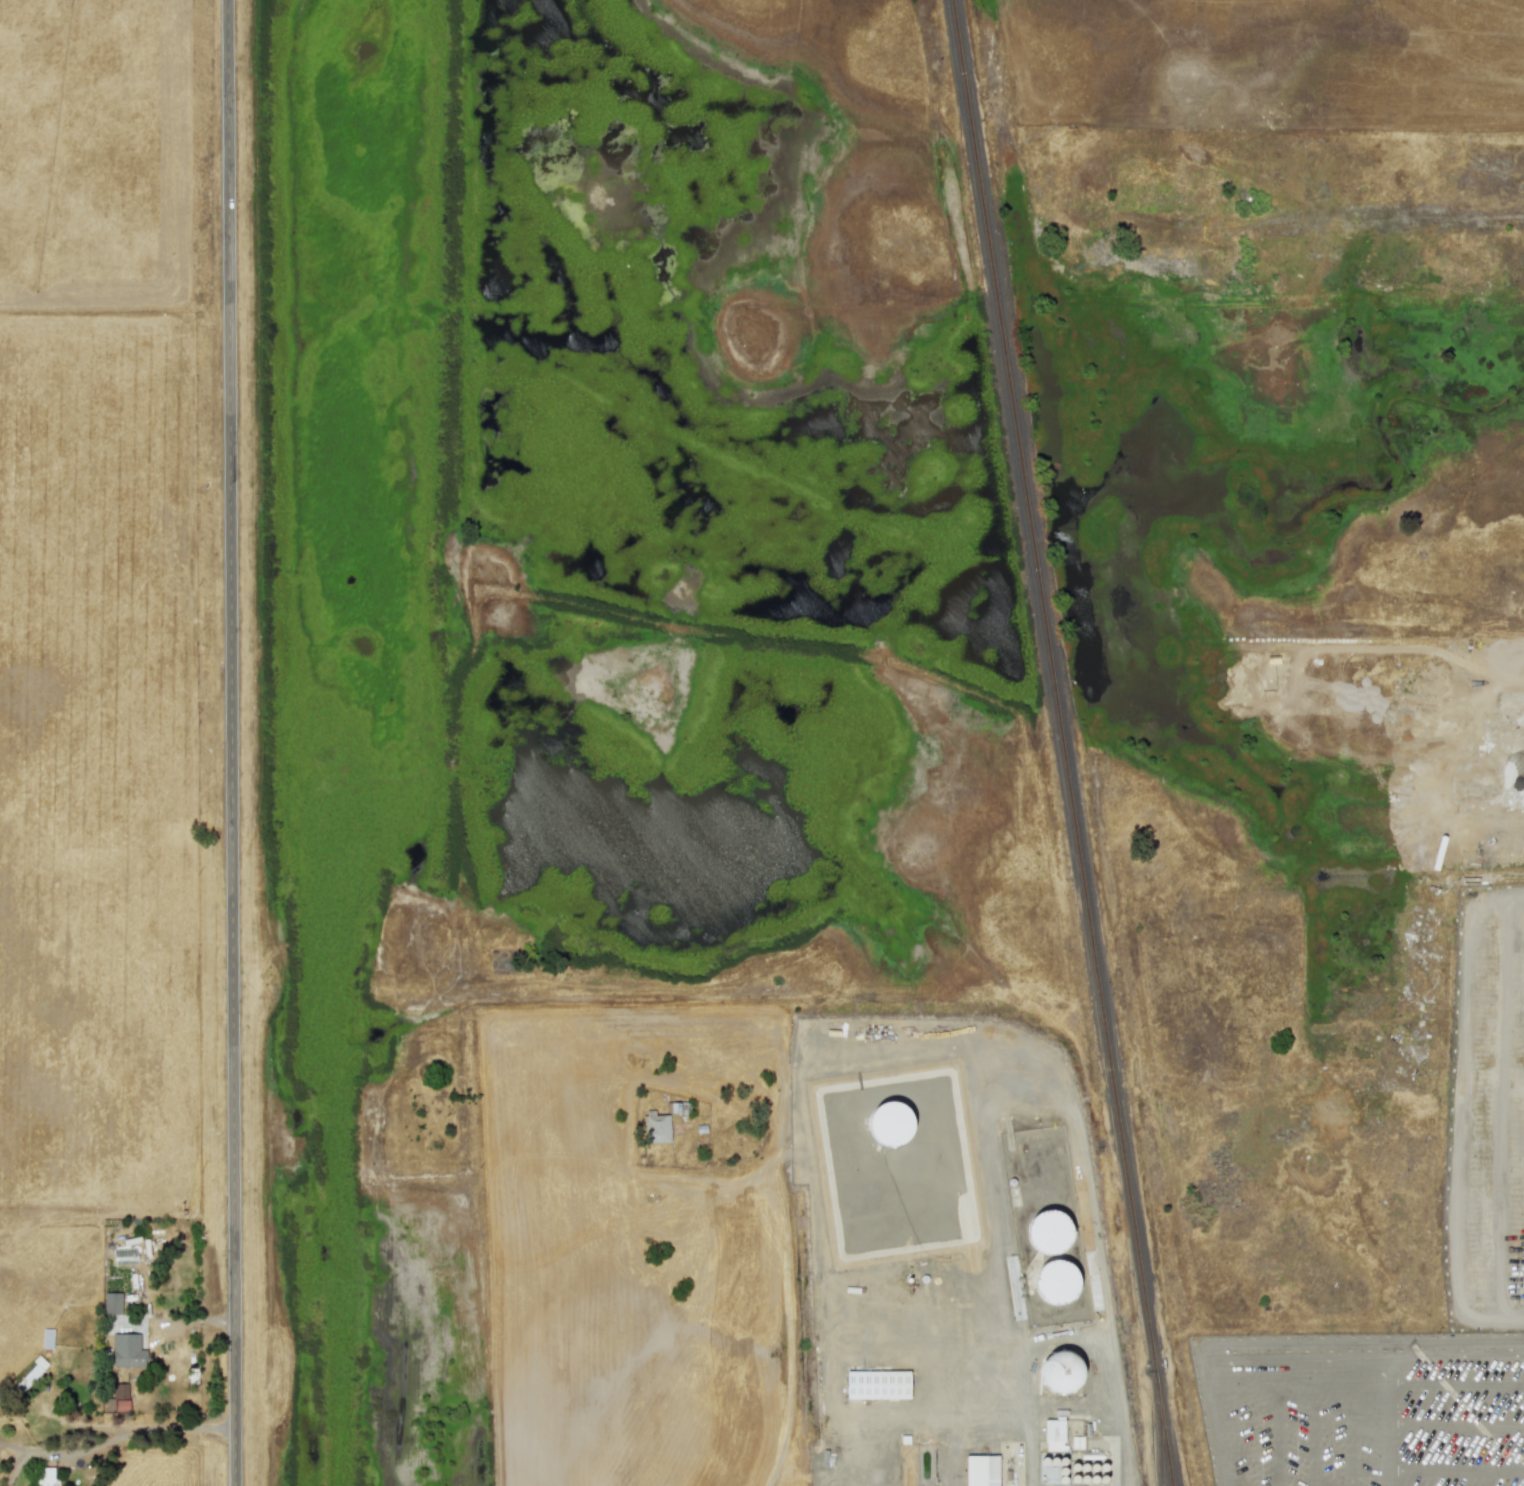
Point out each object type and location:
road: (468, 501)
railway: (1052, 663)
road: (232, 742)
road: (1516, 772)
road: (1033, 1084)
road: (1461, 1113)
building: (890, 1123)
building: (655, 1127)
road: (804, 1153)
building: (1049, 1232)
building: (1057, 1282)
building: (112, 1304)
road: (790, 1332)
road: (1057, 1337)
road: (1365, 1342)
building: (127, 1351)
road: (1295, 1360)
building: (1061, 1372)
building: (876, 1385)
road: (1454, 1385)
building: (118, 1398)
railway: (1162, 1405)
road: (1098, 1411)
road: (957, 1413)
road: (1213, 1414)
road: (1385, 1424)
road: (1454, 1424)
railway: (1161, 1427)
road: (141, 1430)
building: (1054, 1435)
building: (981, 1470)
road: (1303, 1473)
road: (1454, 1474)
building: (45, 1477)

